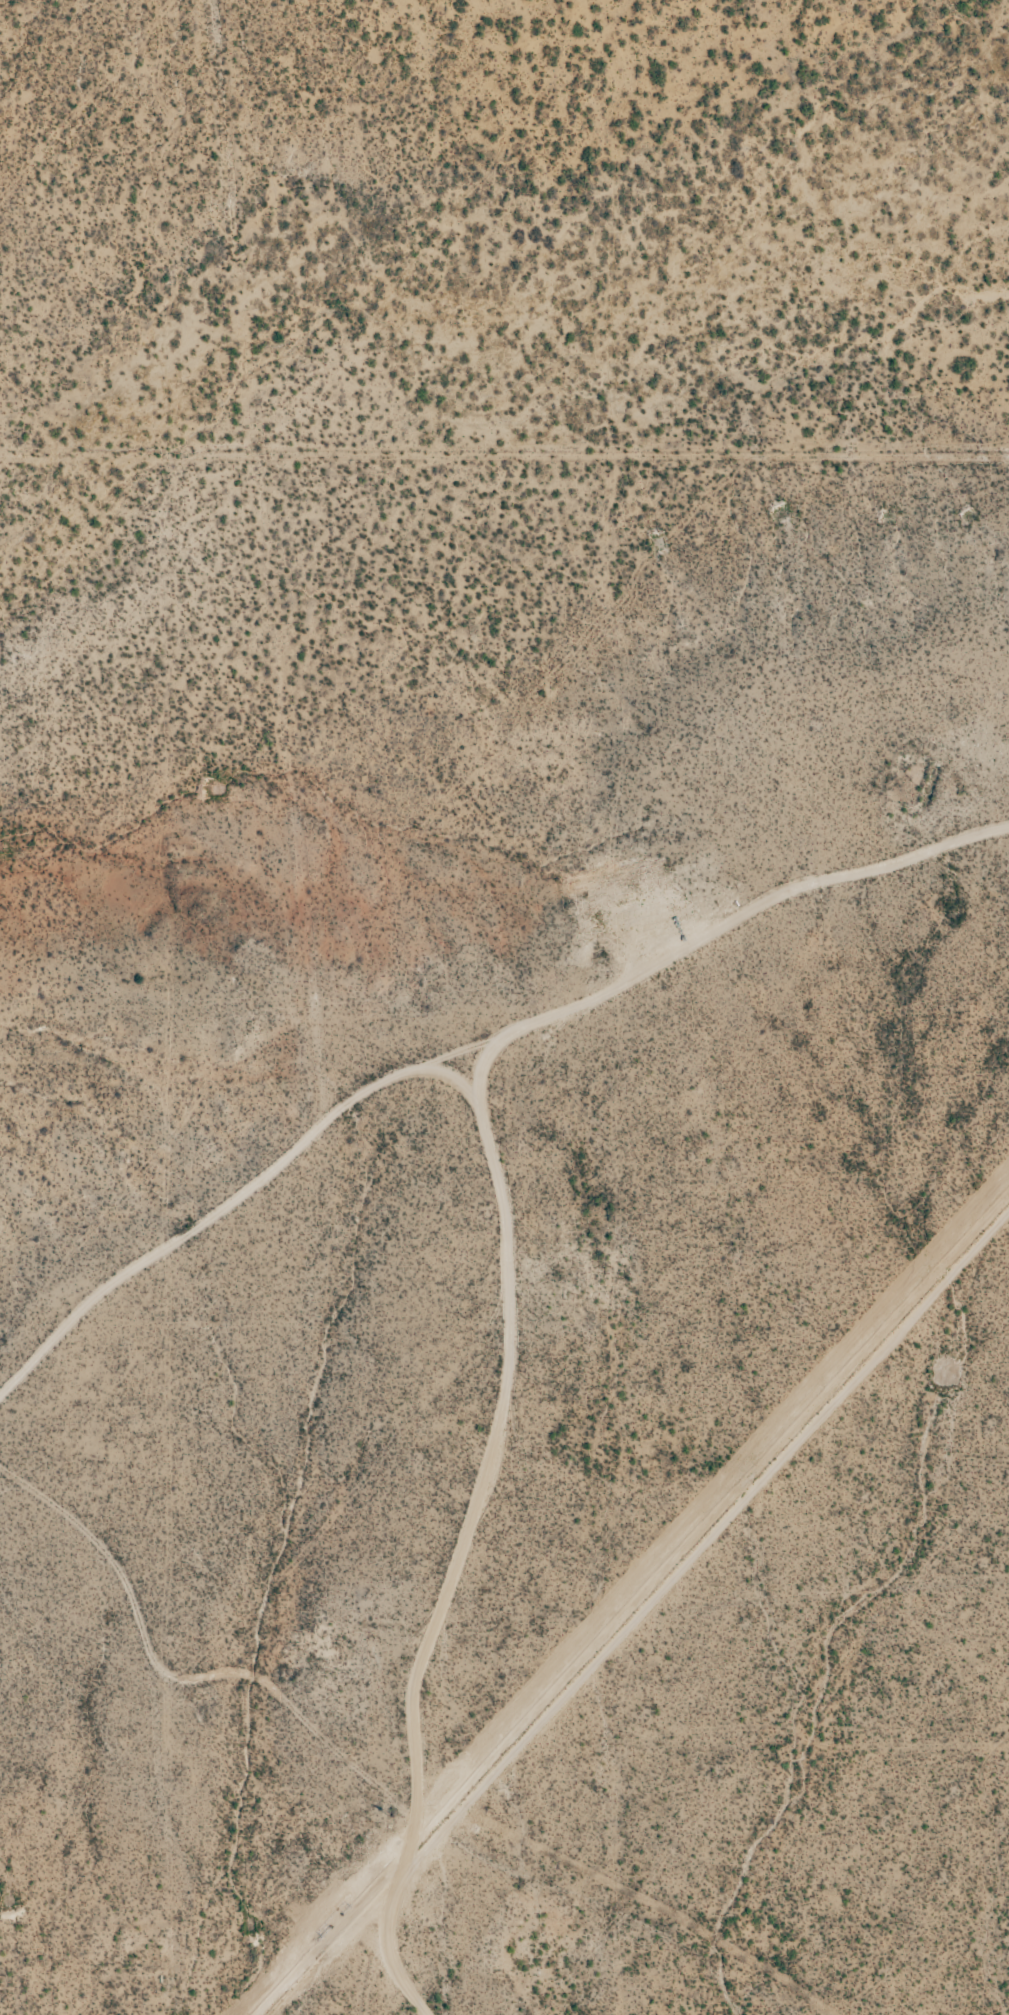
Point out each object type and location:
road: (378, 1107)
road: (483, 1253)
road: (139, 1259)

